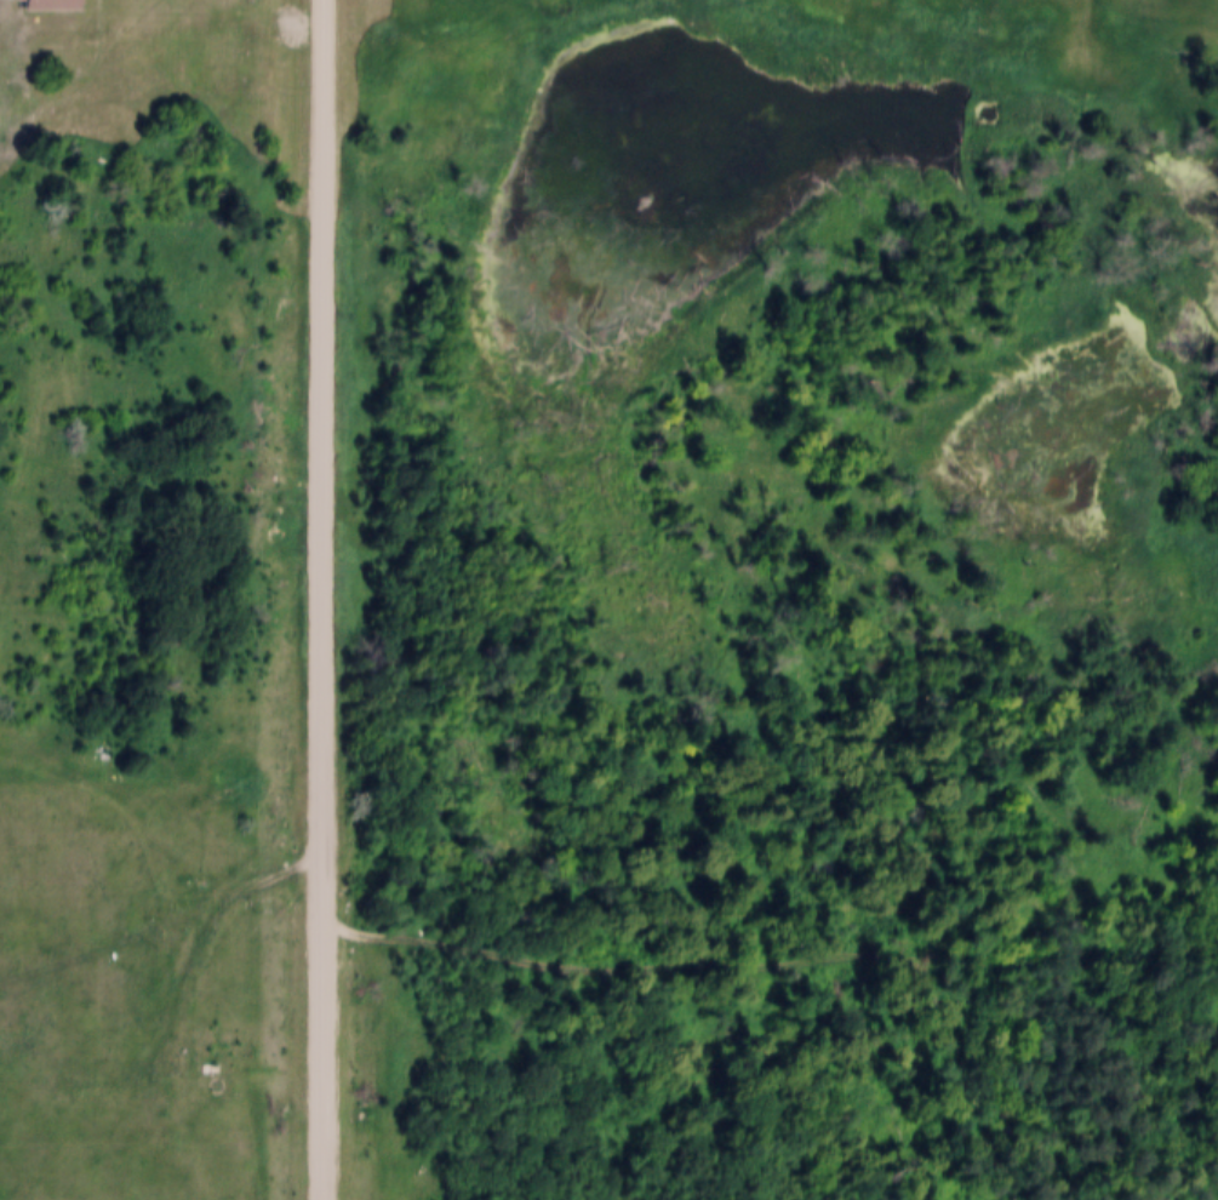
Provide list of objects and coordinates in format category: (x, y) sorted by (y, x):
building: (51, 6)
road: (321, 600)
road: (205, 925)

